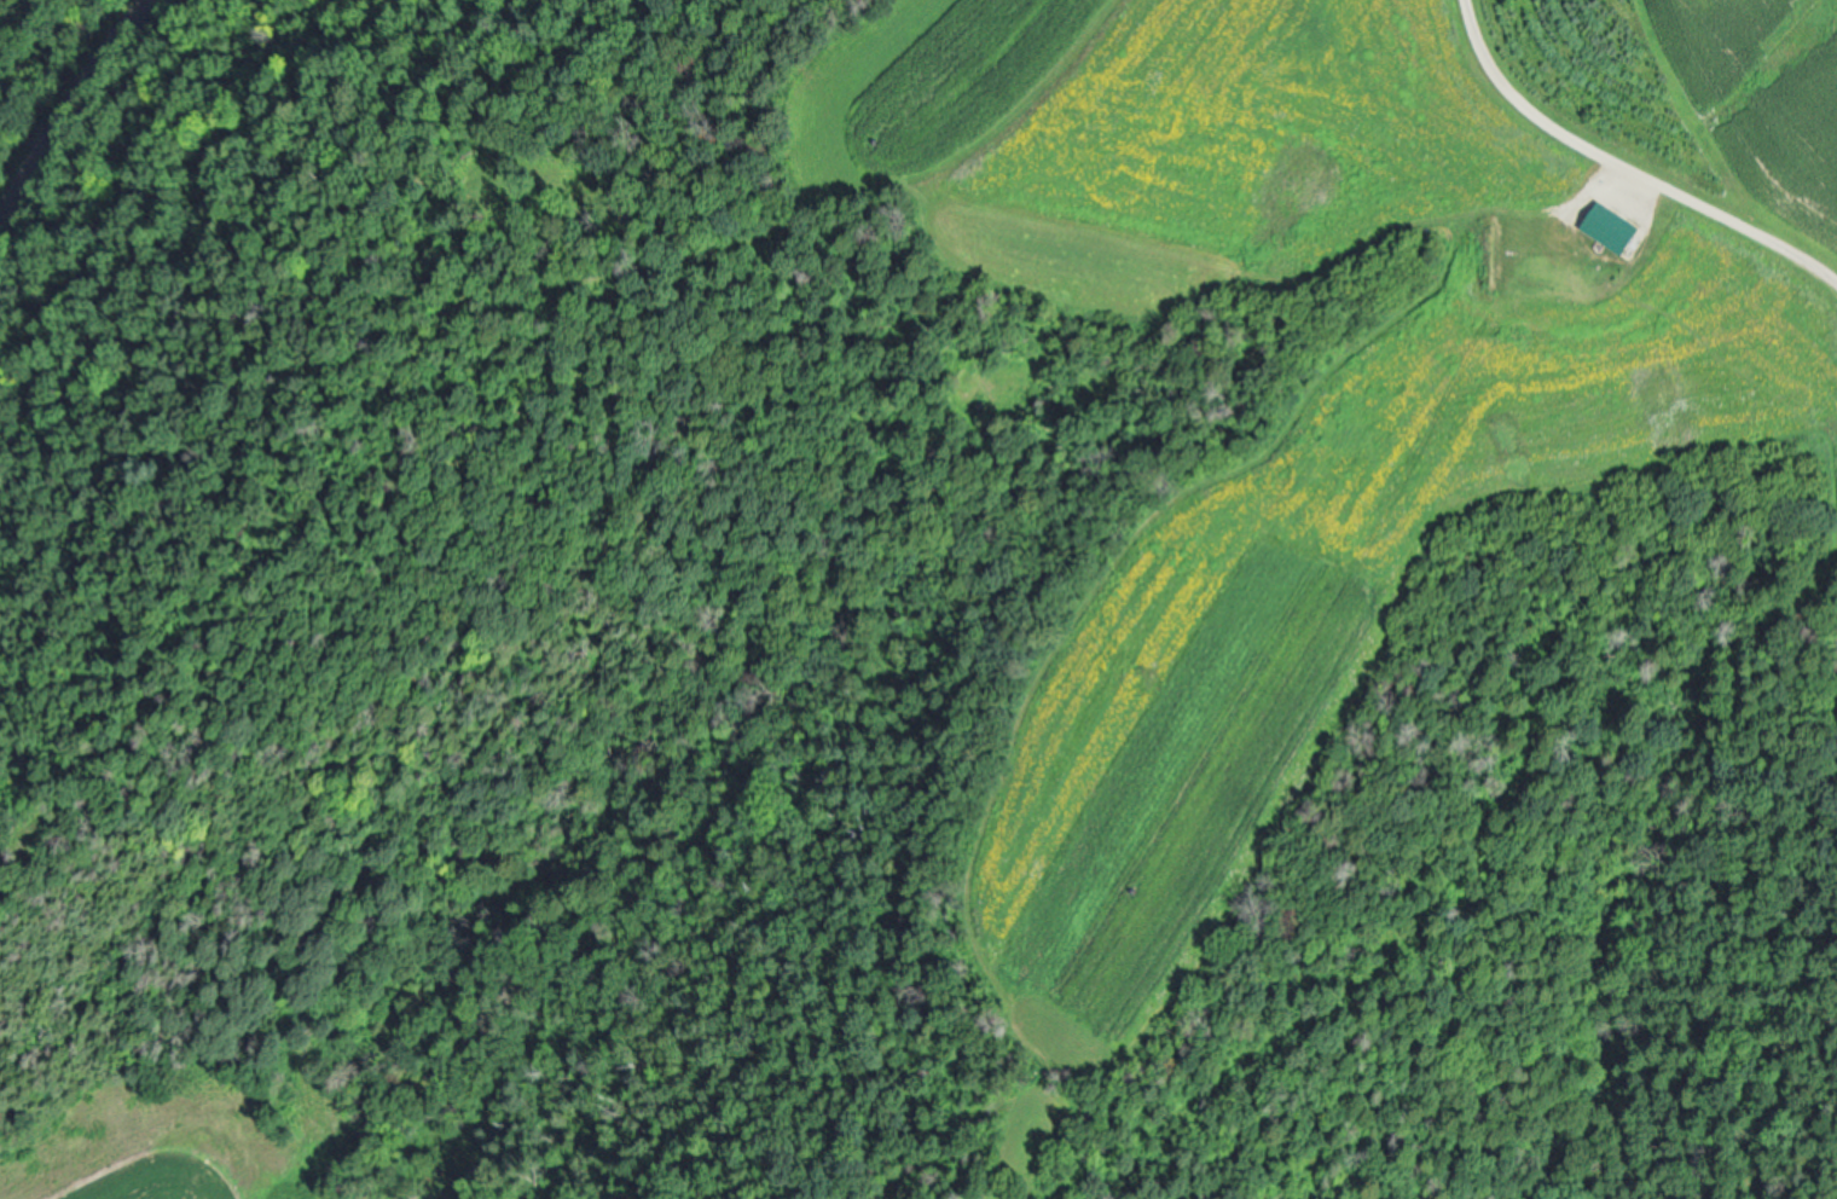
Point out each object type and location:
road: (68, 99)
road: (1623, 168)

